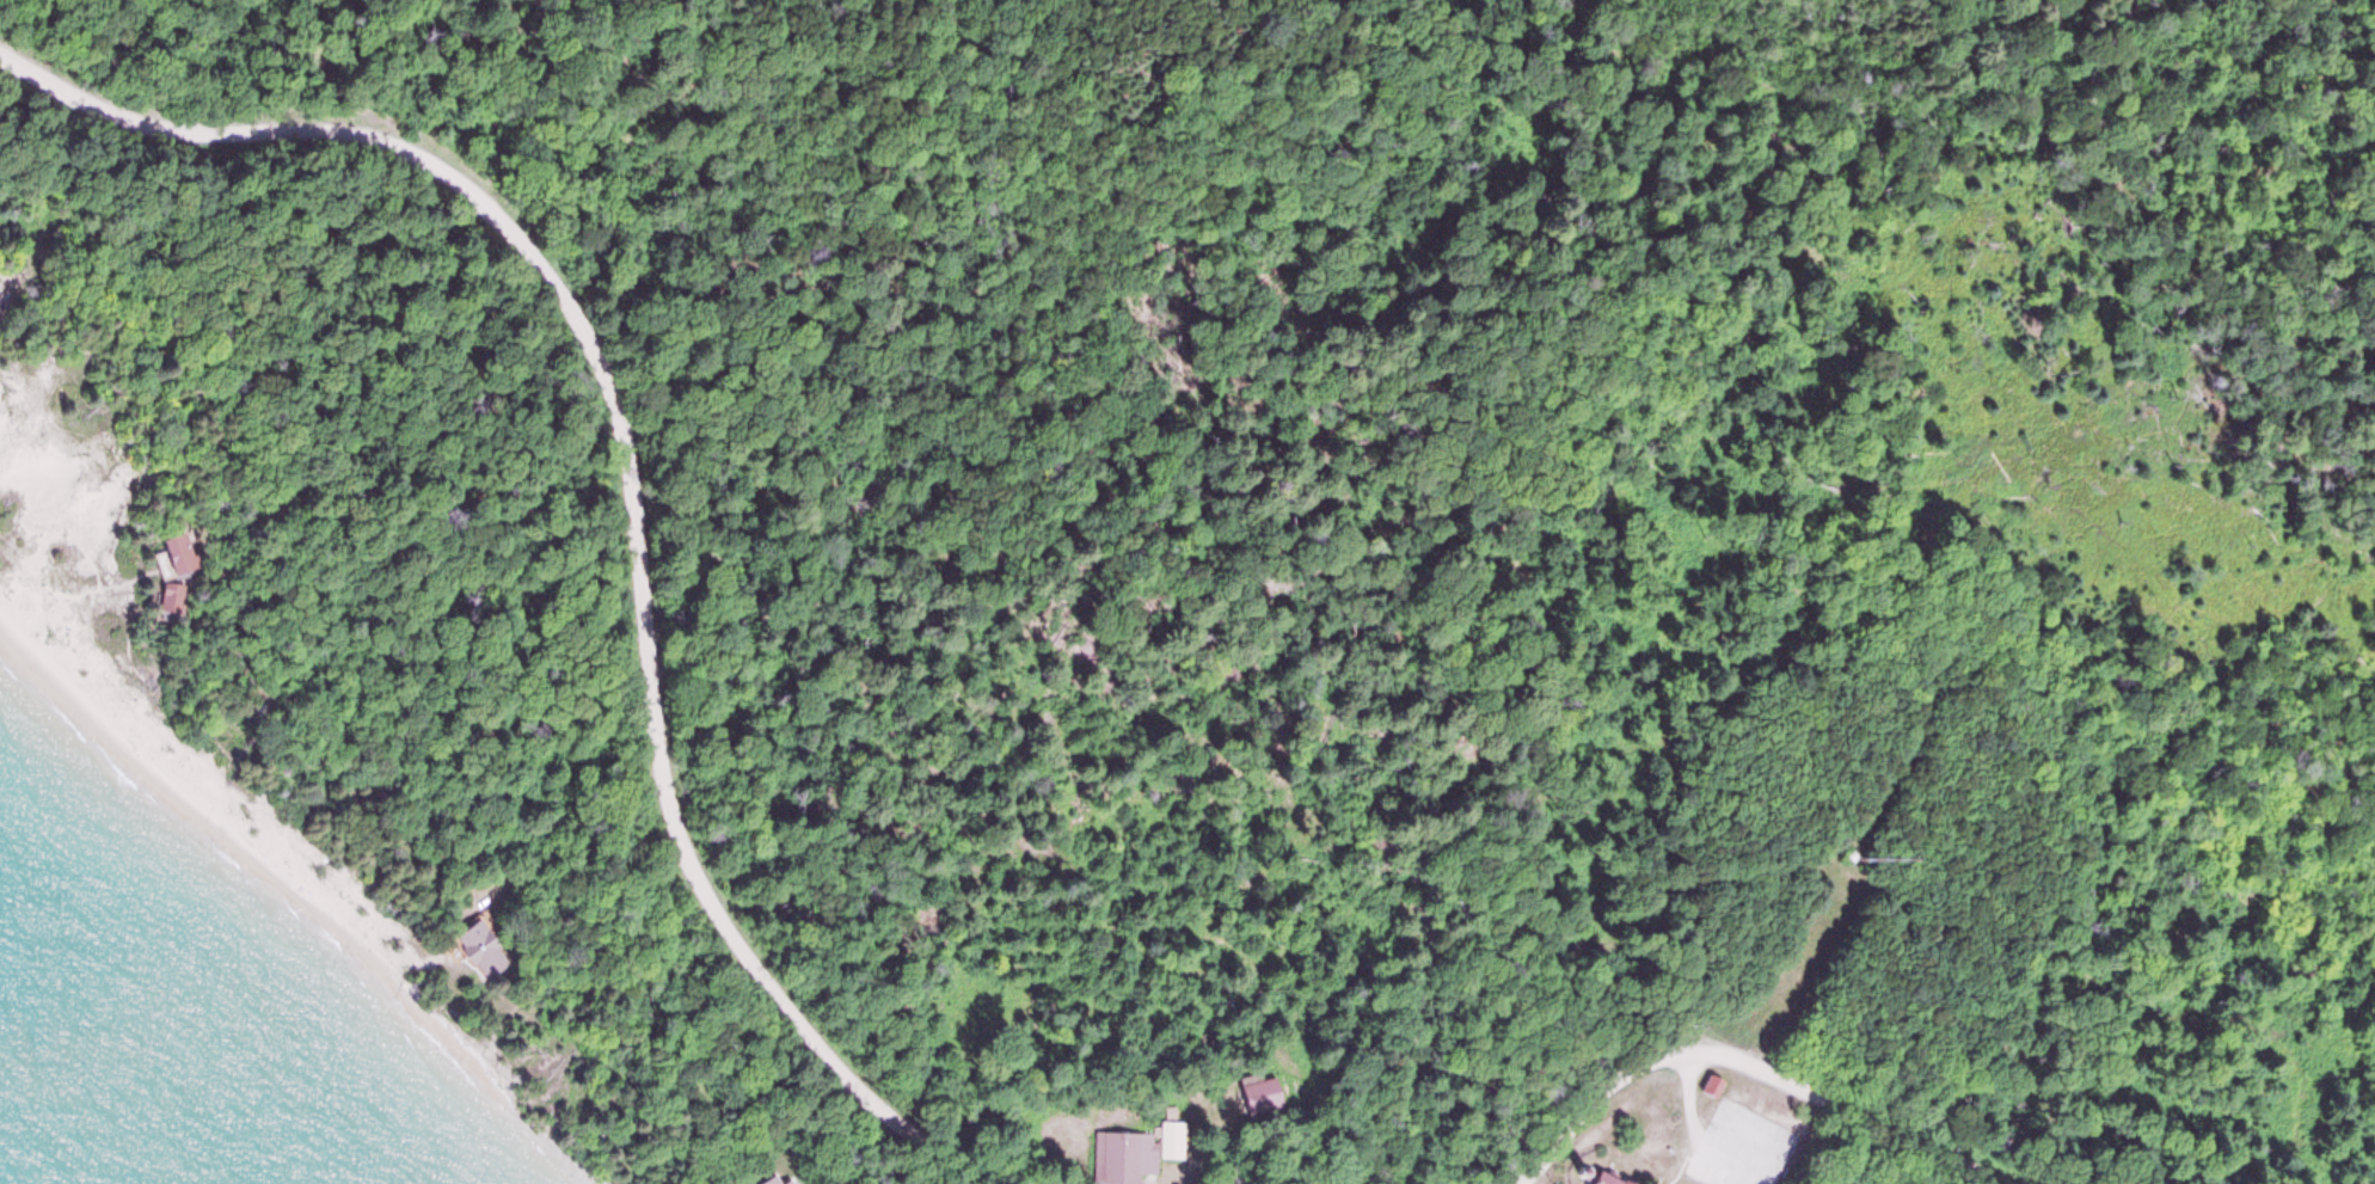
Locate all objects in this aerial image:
road: (631, 492)
building: (179, 553)
building: (474, 946)
road: (1745, 1054)
building: (1710, 1082)
building: (1258, 1092)
building: (1167, 1110)
building: (1168, 1137)
building: (1121, 1154)
lighthouse: (1576, 1170)
building: (1738, 1170)
building: (1596, 1177)
building: (769, 1179)

